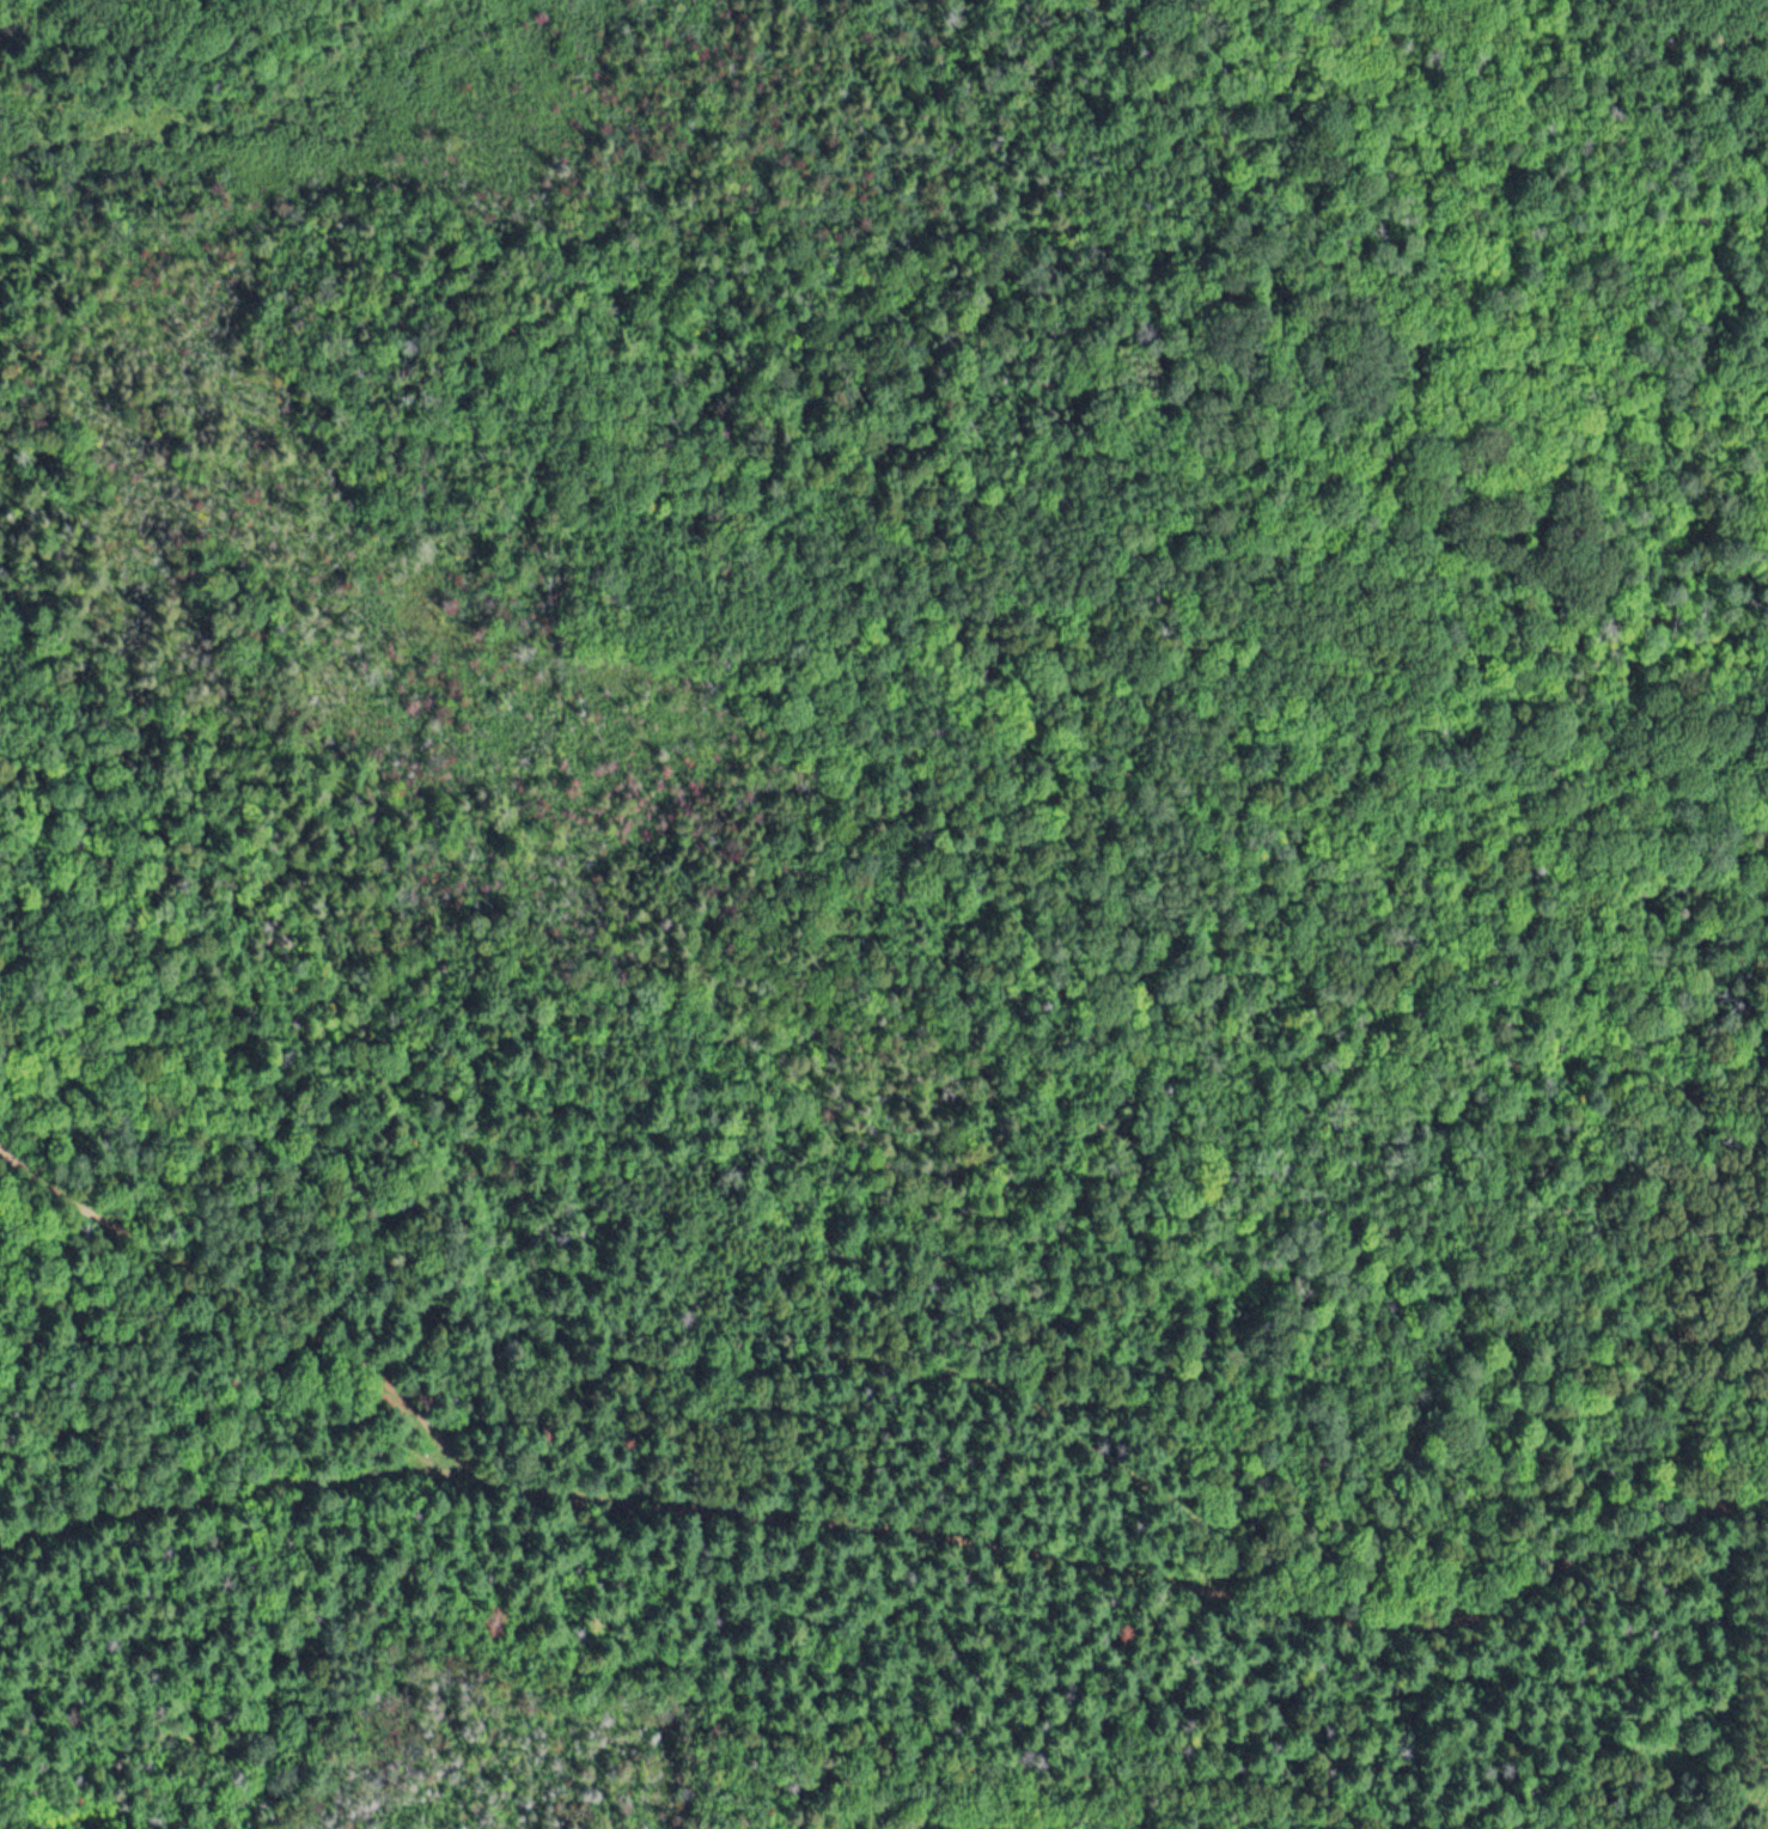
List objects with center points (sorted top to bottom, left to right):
road: (233, 1499)
road: (843, 1526)

